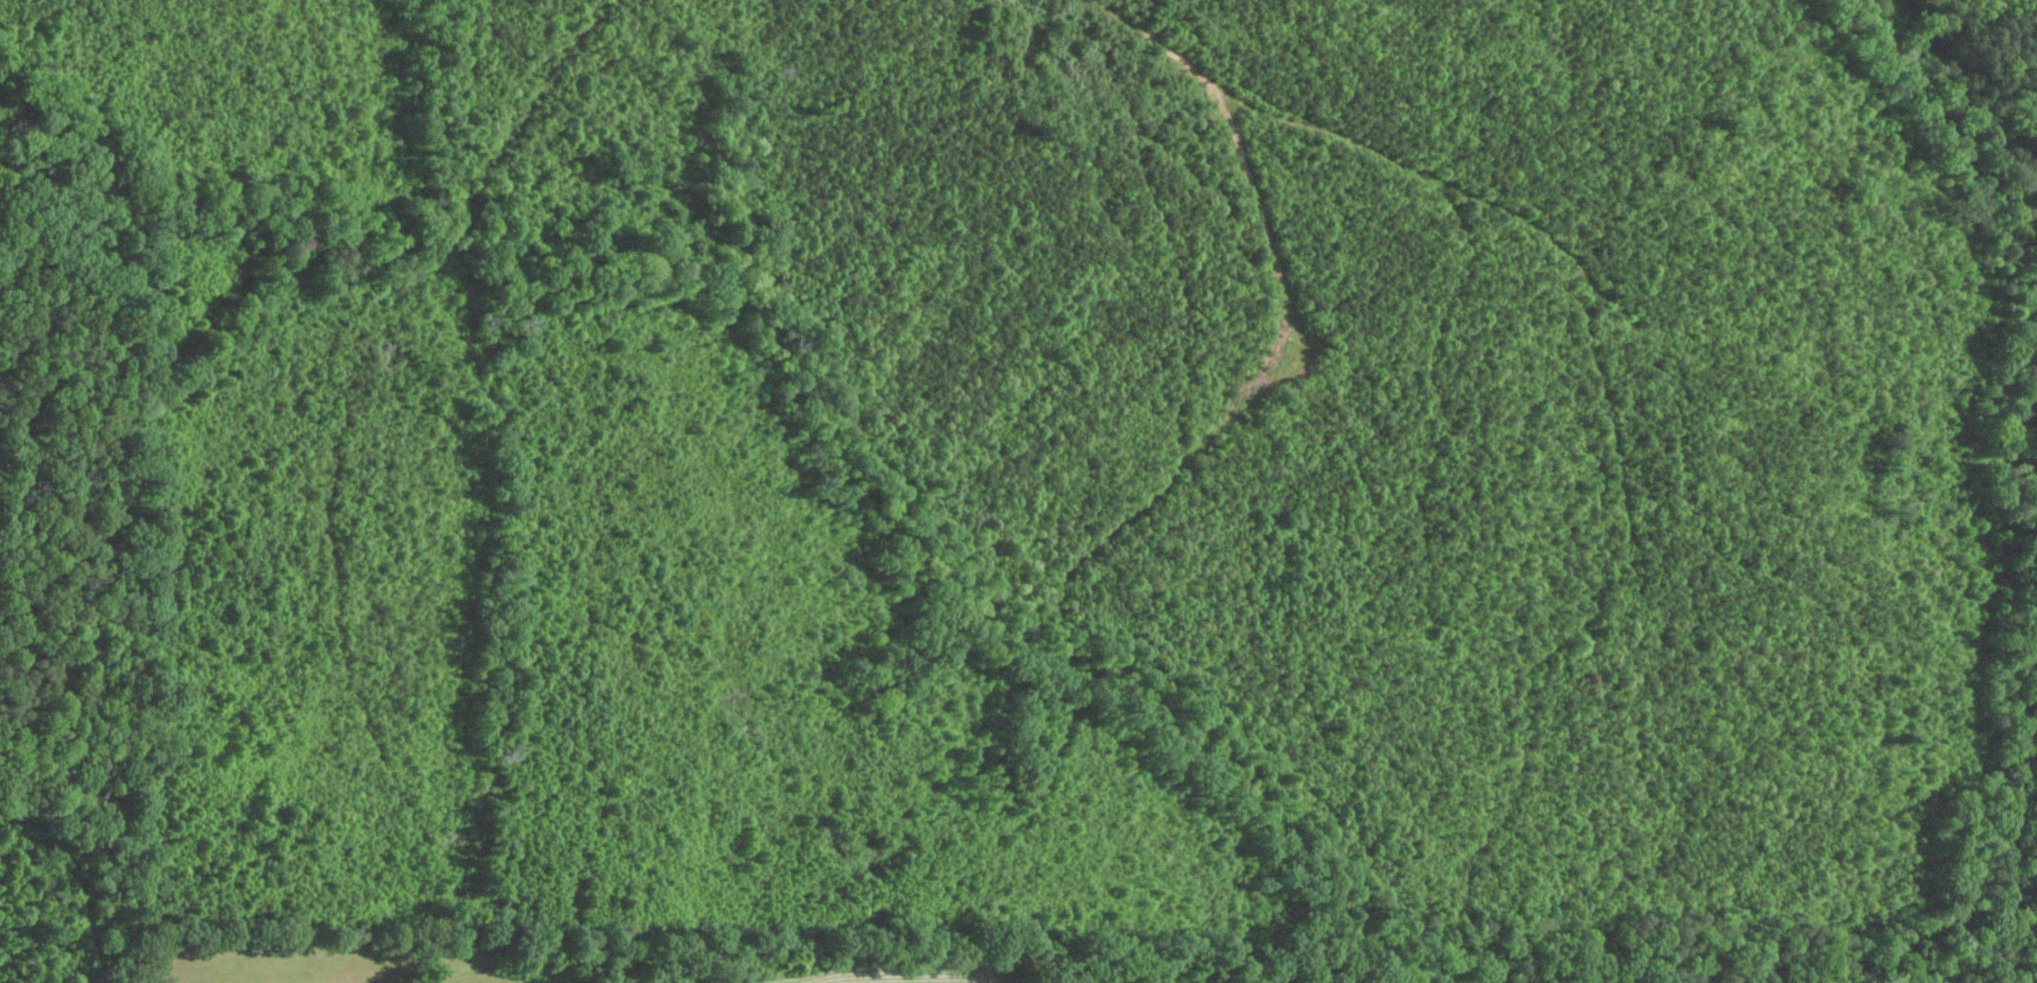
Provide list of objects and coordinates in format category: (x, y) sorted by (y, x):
road: (515, 58)

